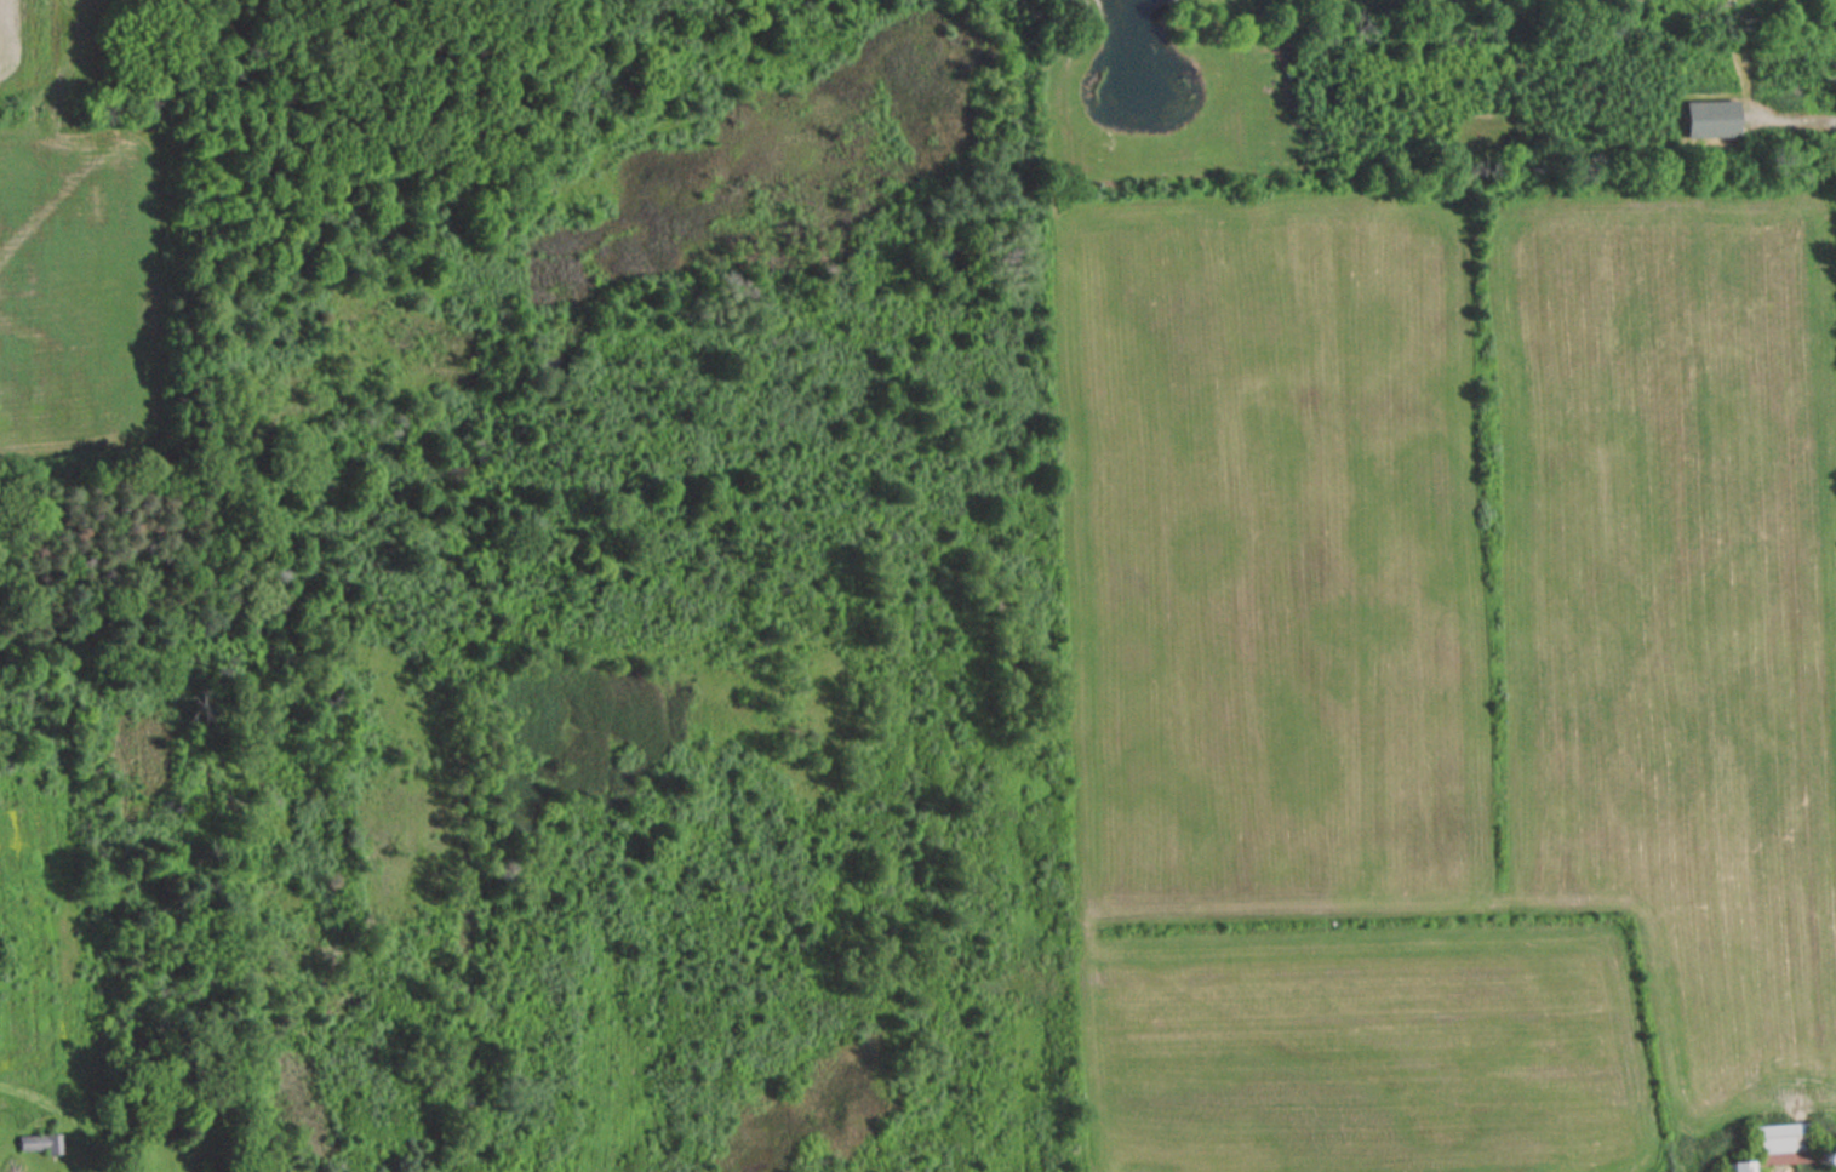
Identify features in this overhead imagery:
building: (1711, 120)
building: (39, 1145)
building: (1780, 1145)
building: (1737, 1167)

